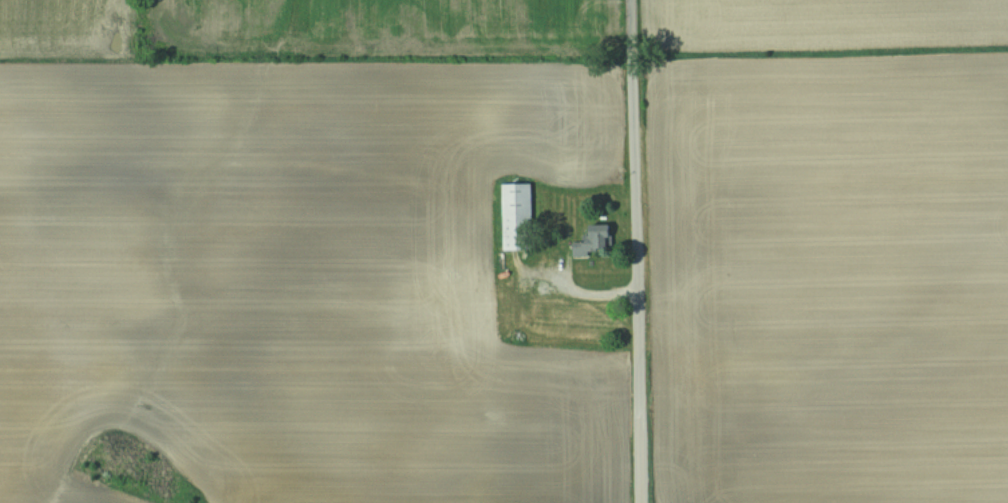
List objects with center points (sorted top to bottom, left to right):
road: (632, 13)
building: (518, 217)
building: (595, 241)
road: (636, 264)
road: (581, 289)

